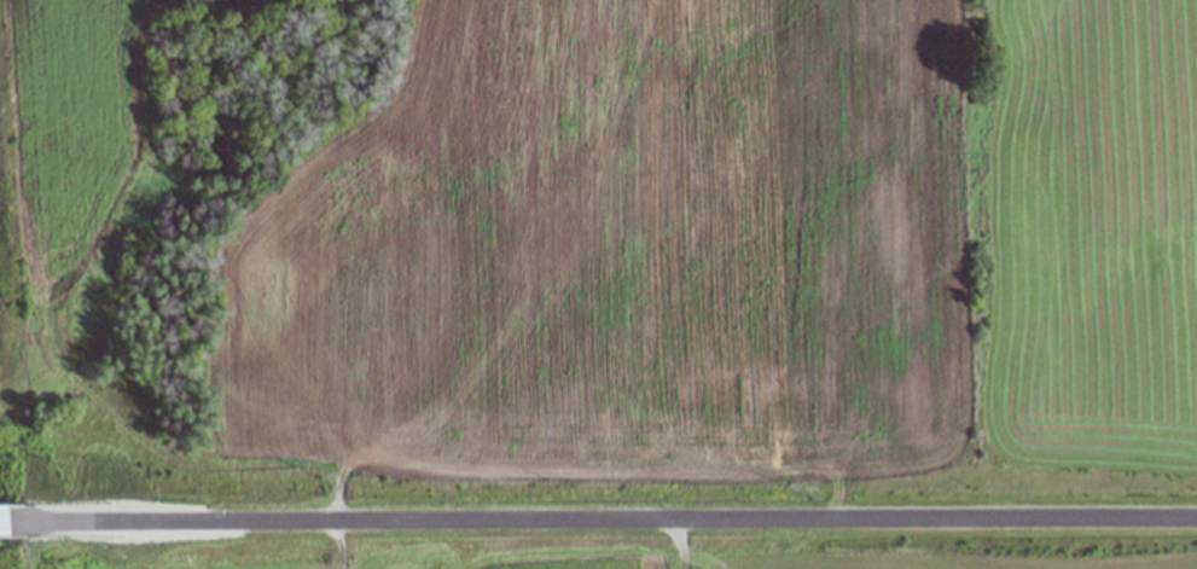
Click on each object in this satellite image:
road: (618, 524)
road: (19, 527)

